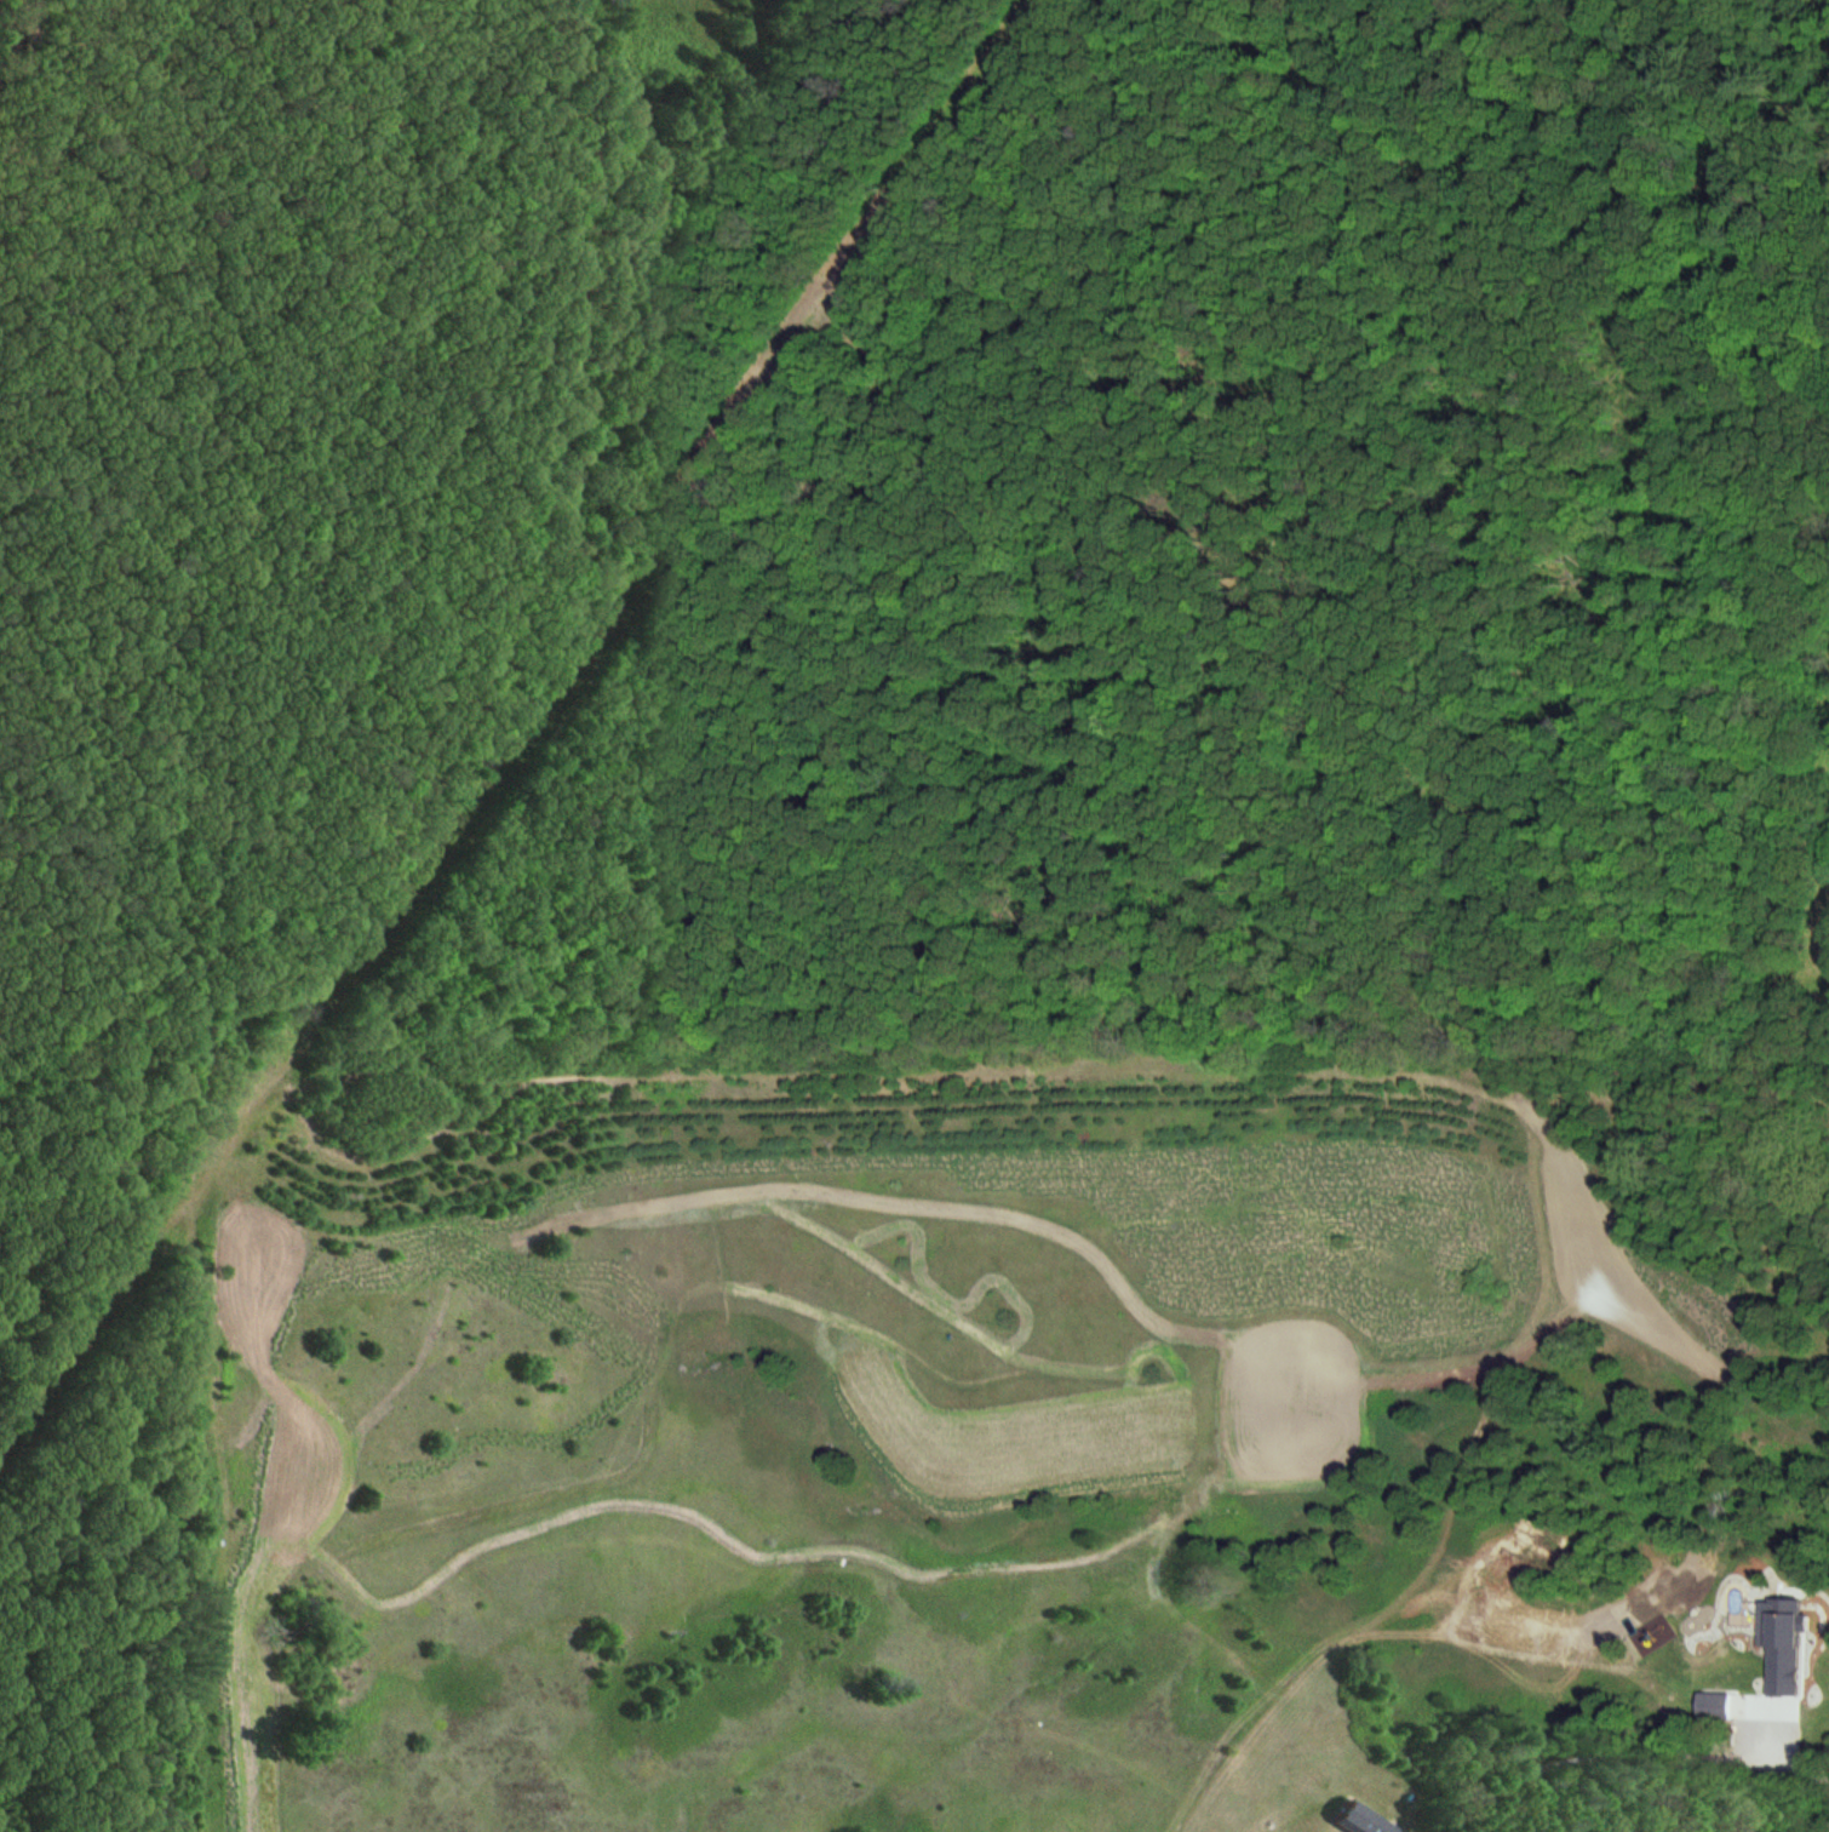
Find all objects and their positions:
road: (1777, 585)
building: (1790, 1651)
building: (1355, 1817)

